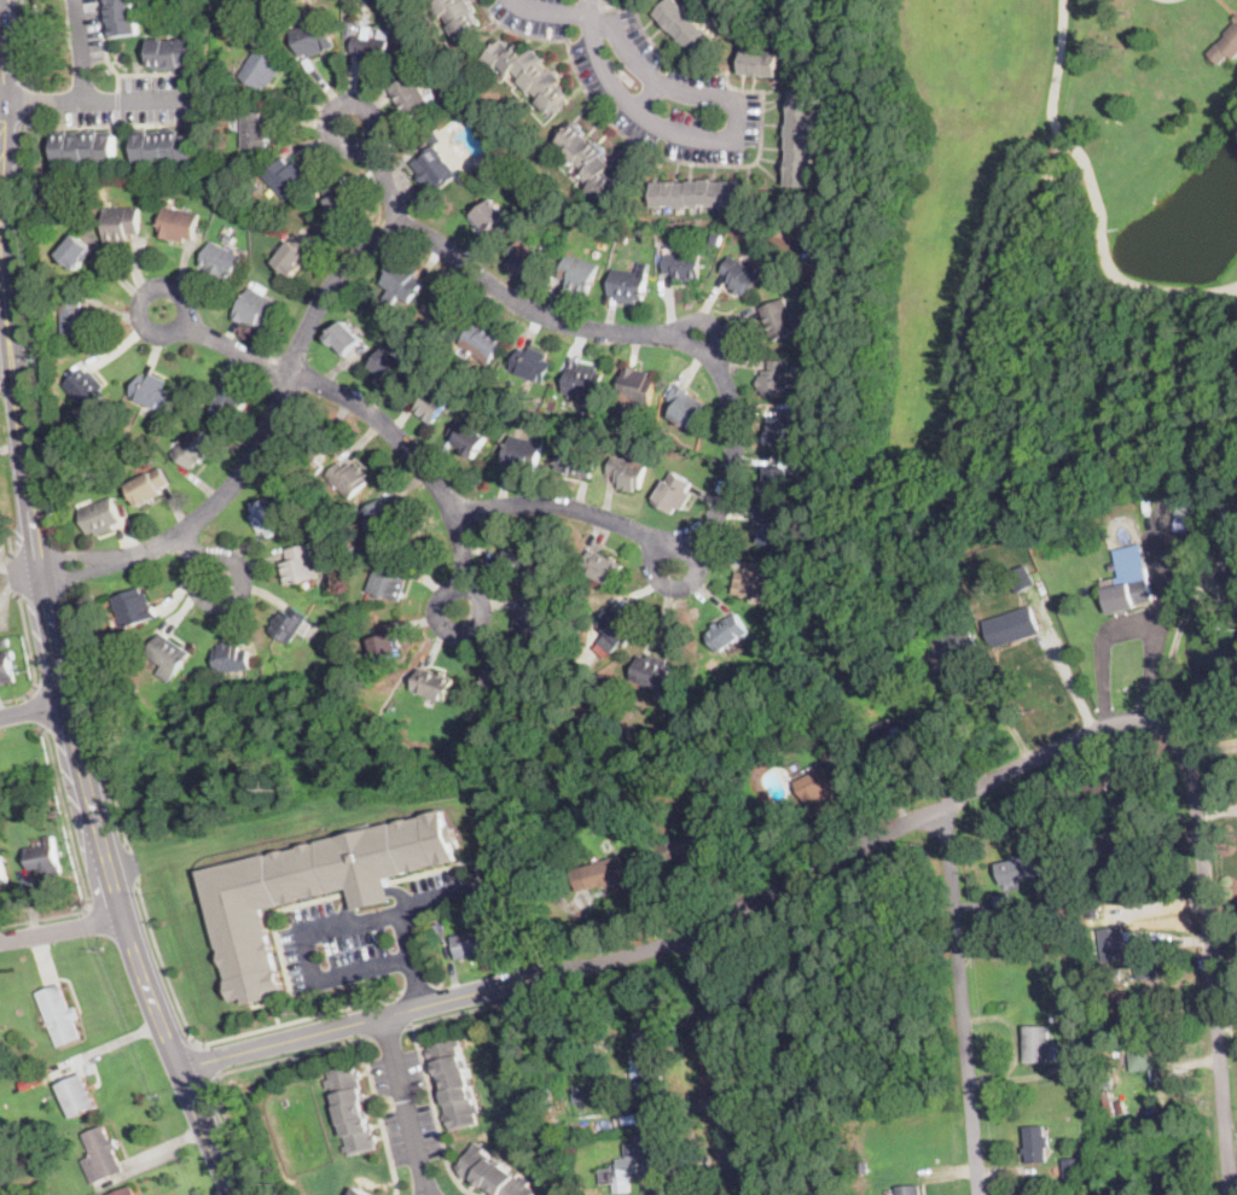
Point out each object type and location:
building: (393, 10)
road: (548, 12)
road: (590, 12)
building: (122, 16)
building: (459, 16)
building: (215, 22)
building: (685, 27)
building: (313, 37)
road: (23, 43)
building: (1226, 45)
building: (370, 49)
road: (80, 51)
building: (174, 51)
road: (1057, 53)
building: (760, 63)
building: (261, 69)
building: (530, 74)
building: (412, 95)
road: (646, 97)
road: (27, 101)
road: (97, 101)
road: (25, 130)
building: (255, 132)
road: (738, 134)
building: (801, 136)
building: (167, 145)
building: (85, 146)
building: (588, 159)
building: (437, 167)
road: (381, 173)
building: (225, 177)
building: (285, 177)
building: (304, 177)
building: (699, 193)
road: (0, 202)
building: (339, 203)
building: (490, 222)
building: (122, 223)
building: (180, 223)
building: (716, 237)
building: (230, 238)
building: (602, 243)
road: (1103, 245)
building: (76, 251)
building: (292, 253)
building: (811, 256)
building: (525, 258)
building: (222, 261)
building: (683, 266)
building: (405, 273)
building: (577, 273)
building: (741, 276)
building: (628, 284)
building: (273, 293)
road: (509, 297)
building: (435, 305)
building: (257, 308)
building: (447, 313)
building: (57, 314)
building: (75, 319)
building: (777, 319)
building: (345, 338)
road: (225, 342)
building: (482, 343)
building: (529, 361)
building: (388, 363)
road: (10, 372)
building: (586, 378)
building: (774, 378)
building: (637, 385)
building: (86, 389)
building: (152, 390)
building: (430, 401)
building: (231, 404)
building: (685, 407)
building: (785, 430)
building: (467, 437)
building: (570, 438)
building: (296, 439)
building: (312, 442)
building: (194, 448)
building: (521, 455)
building: (581, 461)
building: (801, 464)
road: (418, 465)
building: (627, 473)
building: (348, 477)
building: (779, 480)
building: (147, 486)
building: (674, 492)
building: (1187, 503)
building: (1236, 503)
building: (336, 511)
building: (1230, 515)
building: (101, 517)
building: (271, 517)
building: (382, 519)
building: (1183, 525)
building: (771, 529)
building: (517, 553)
road: (201, 558)
building: (307, 564)
building: (292, 565)
building: (1113, 565)
building: (602, 566)
building: (1232, 571)
building: (387, 578)
building: (1020, 578)
building: (754, 579)
building: (1128, 585)
building: (940, 604)
building: (917, 607)
building: (135, 608)
building: (535, 613)
building: (303, 624)
building: (286, 625)
building: (1011, 626)
road: (1127, 628)
building: (617, 629)
building: (726, 631)
building: (5, 641)
building: (387, 641)
road: (1173, 646)
building: (943, 651)
building: (168, 655)
building: (232, 658)
building: (852, 658)
road: (34, 661)
building: (7, 669)
building: (583, 671)
building: (651, 671)
building: (260, 676)
building: (503, 678)
building: (436, 683)
building: (332, 684)
building: (315, 698)
building: (749, 703)
road: (33, 711)
road: (37, 711)
building: (600, 718)
building: (900, 731)
building: (847, 738)
building: (827, 747)
building: (1104, 762)
building: (661, 775)
road: (114, 783)
building: (815, 783)
building: (1094, 785)
building: (605, 800)
building: (623, 811)
building: (1107, 835)
building: (1125, 839)
building: (685, 850)
building: (46, 856)
road: (77, 858)
road: (134, 867)
building: (2, 868)
building: (1020, 869)
building: (603, 874)
building: (313, 886)
building: (1068, 898)
building: (1004, 900)
building: (1092, 908)
road: (406, 910)
building: (470, 910)
building: (435, 917)
road: (62, 929)
building: (1090, 931)
road: (315, 933)
road: (127, 934)
building: (1133, 934)
building: (1045, 937)
road: (689, 939)
building: (471, 945)
road: (1210, 954)
building: (1145, 960)
building: (1097, 973)
building: (1115, 974)
road: (441, 984)
road: (418, 989)
building: (763, 990)
road: (962, 1003)
road: (475, 1009)
building: (59, 1015)
building: (1052, 1019)
building: (817, 1028)
road: (387, 1032)
road: (364, 1038)
road: (216, 1042)
building: (1078, 1043)
building: (1036, 1044)
building: (1079, 1054)
building: (1140, 1054)
building: (650, 1061)
road: (209, 1063)
road: (716, 1063)
building: (0, 1067)
road: (227, 1073)
building: (1137, 1075)
building: (1108, 1078)
building: (453, 1082)
building: (576, 1095)
building: (79, 1096)
building: (544, 1097)
building: (1109, 1102)
building: (1166, 1103)
building: (353, 1107)
road: (403, 1107)
road: (435, 1115)
road: (381, 1117)
building: (617, 1120)
building: (34, 1132)
building: (1035, 1143)
building: (101, 1155)
building: (654, 1161)
building: (863, 1167)
building: (492, 1172)
building: (1074, 1172)
building: (907, 1190)
building: (126, 1191)
building: (362, 1191)

